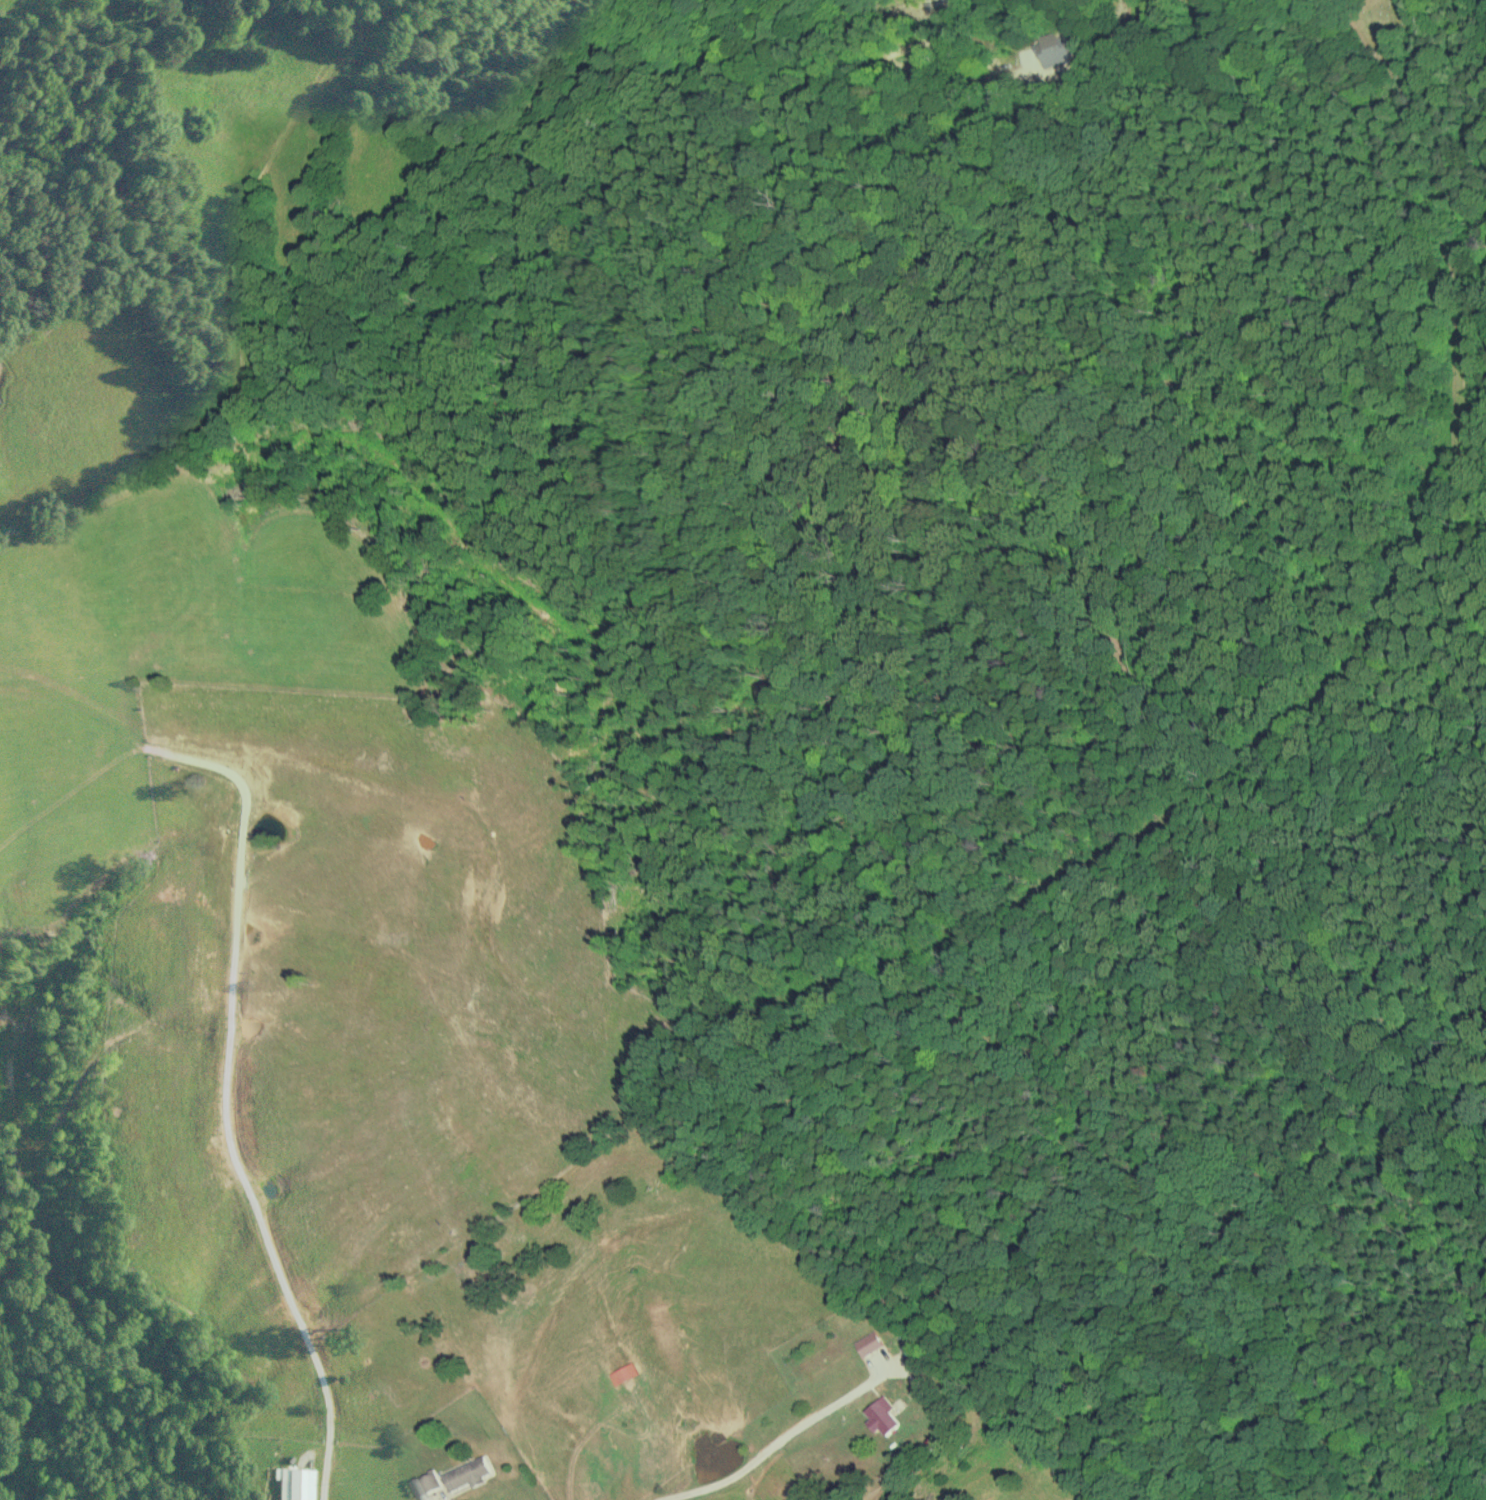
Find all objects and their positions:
building: (1053, 50)
building: (869, 1343)
building: (884, 1414)
building: (468, 1474)
building: (293, 1483)
building: (427, 1483)

